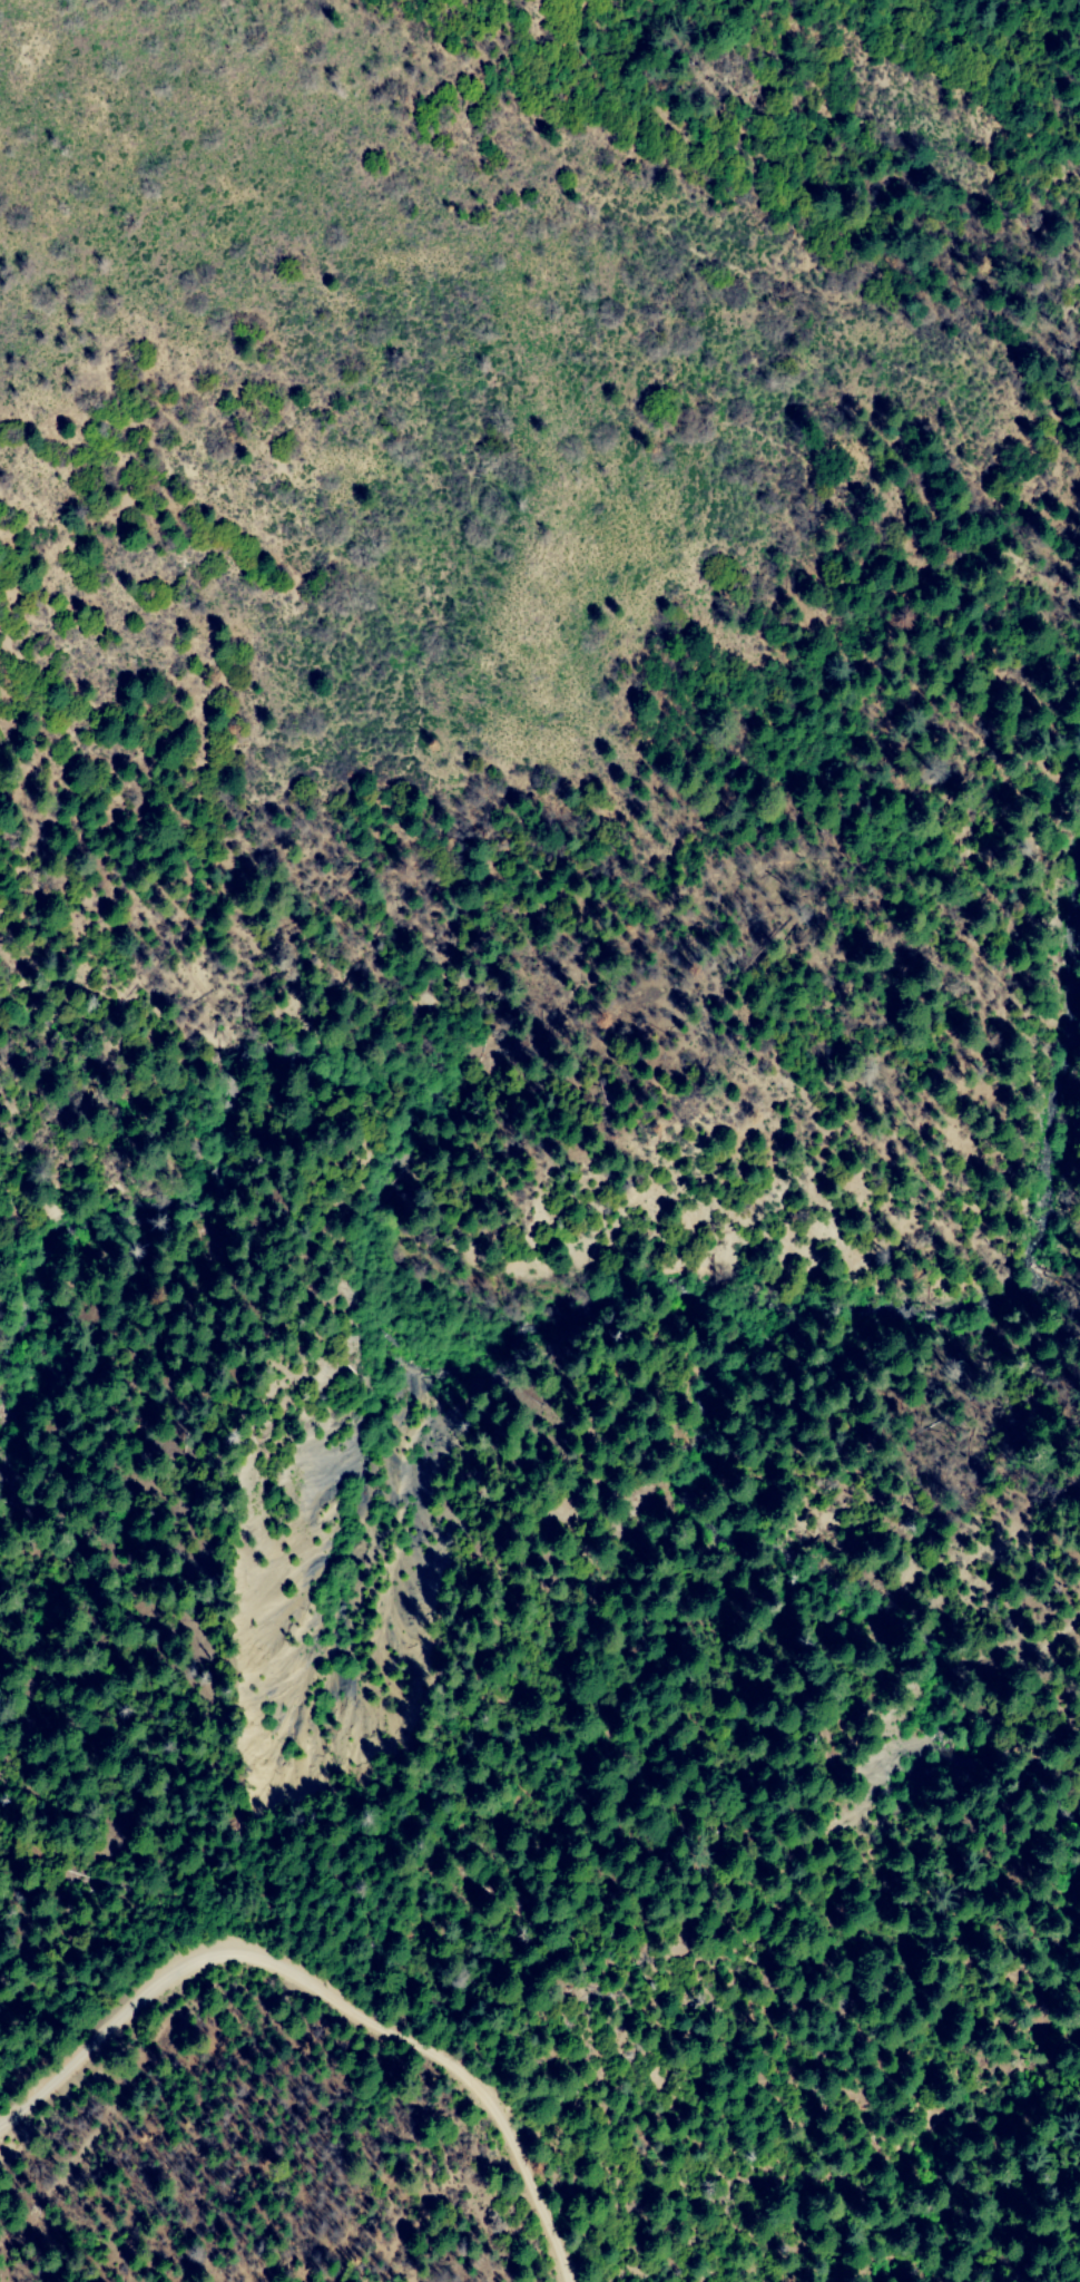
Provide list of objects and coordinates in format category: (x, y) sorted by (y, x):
road: (324, 1995)

